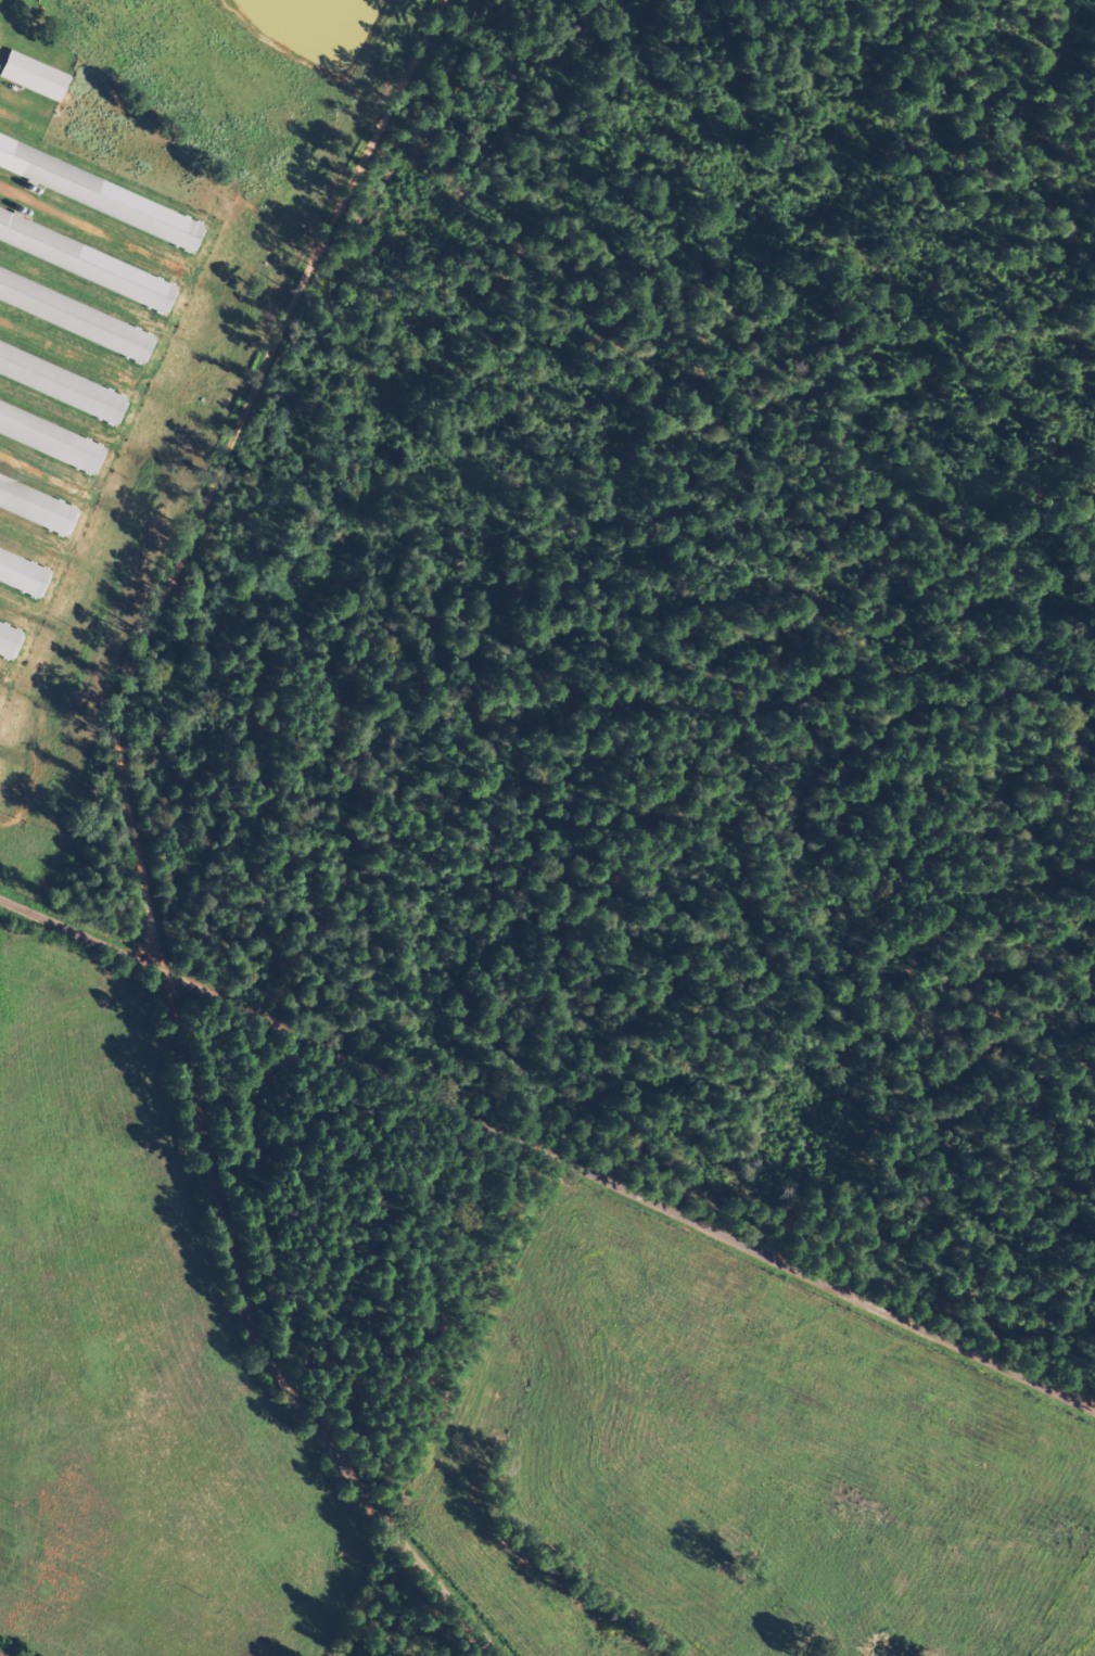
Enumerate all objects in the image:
building: (38, 75)
building: (102, 190)
building: (88, 257)
building: (63, 379)
building: (52, 433)
road: (252, 510)
building: (11, 632)
road: (544, 1203)
road: (272, 1375)

